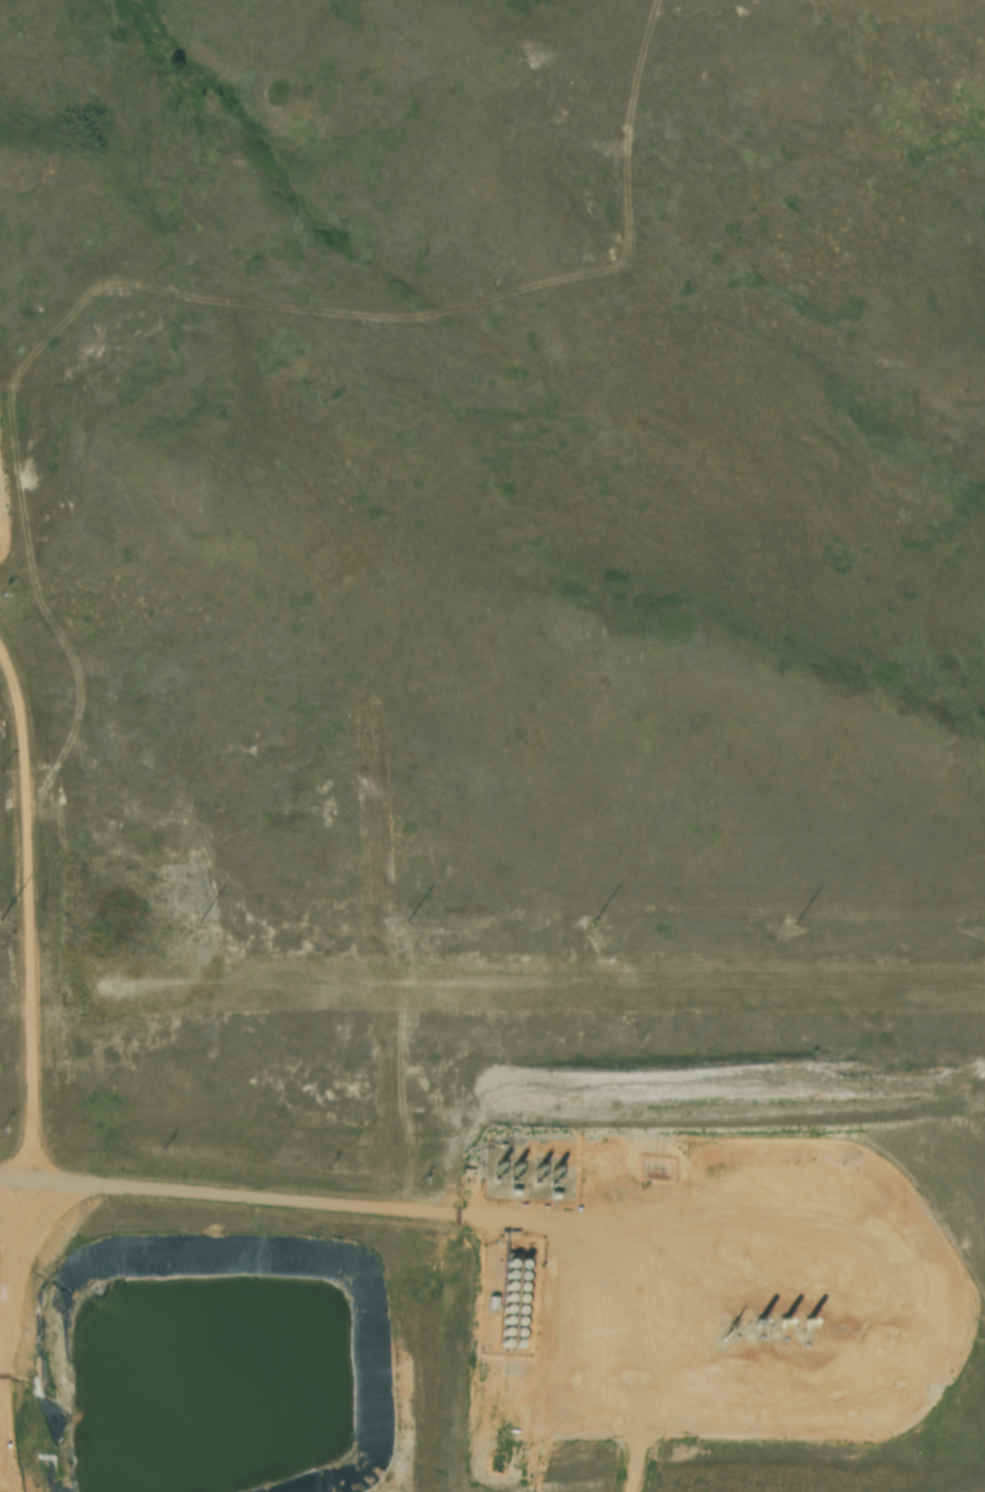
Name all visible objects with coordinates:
road: (30, 913)
road: (429, 1220)

